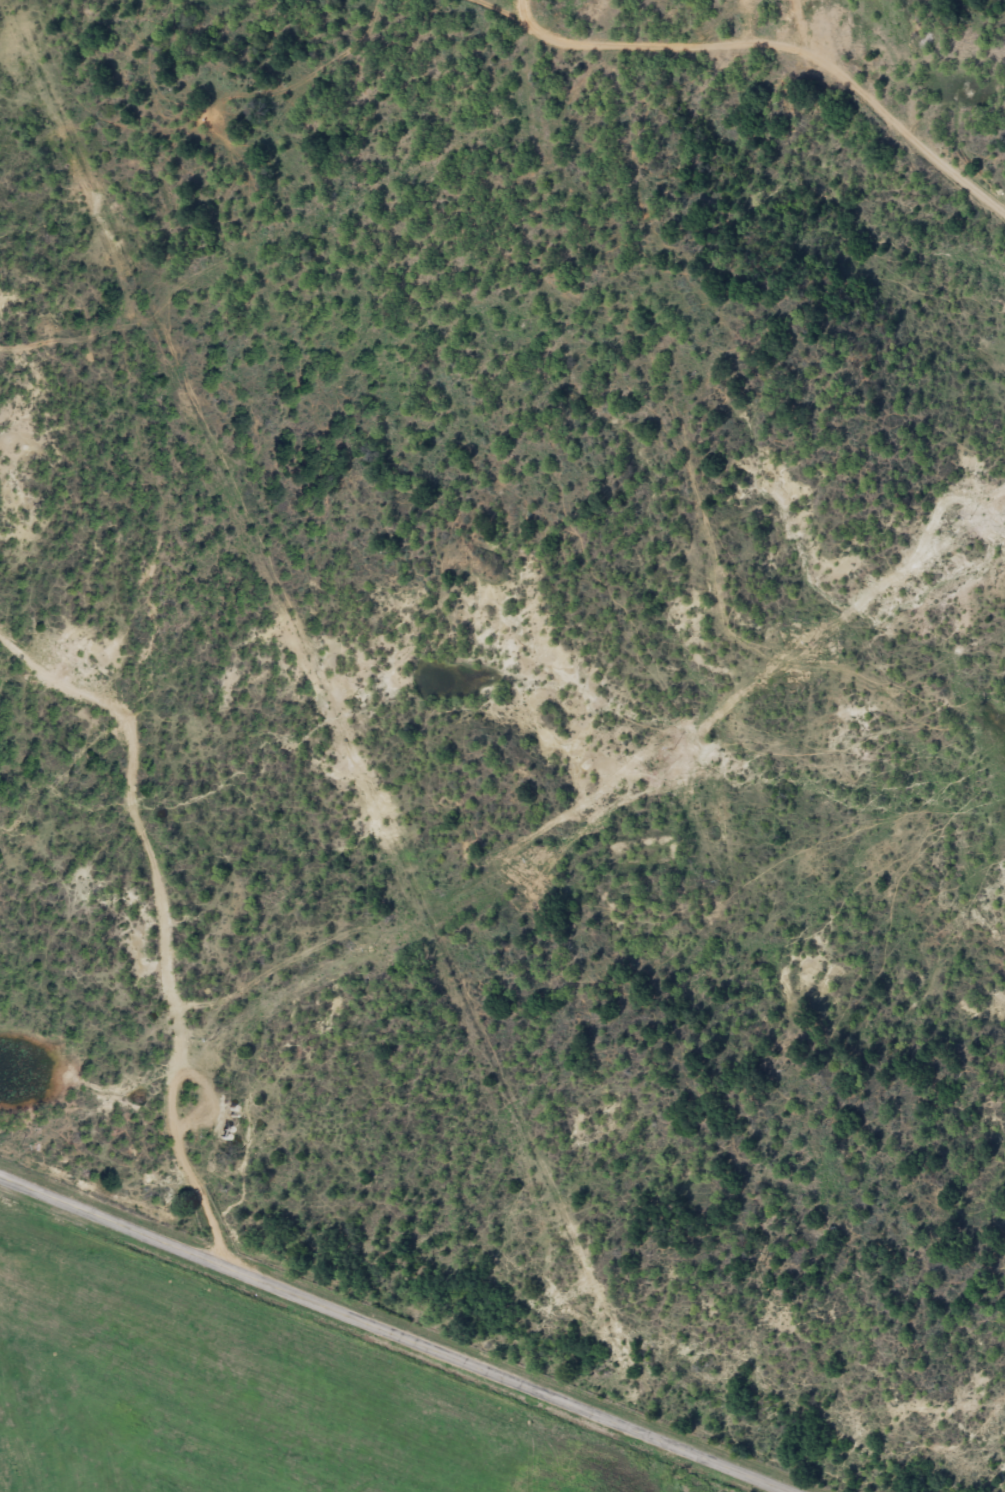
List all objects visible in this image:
road: (397, 1334)

